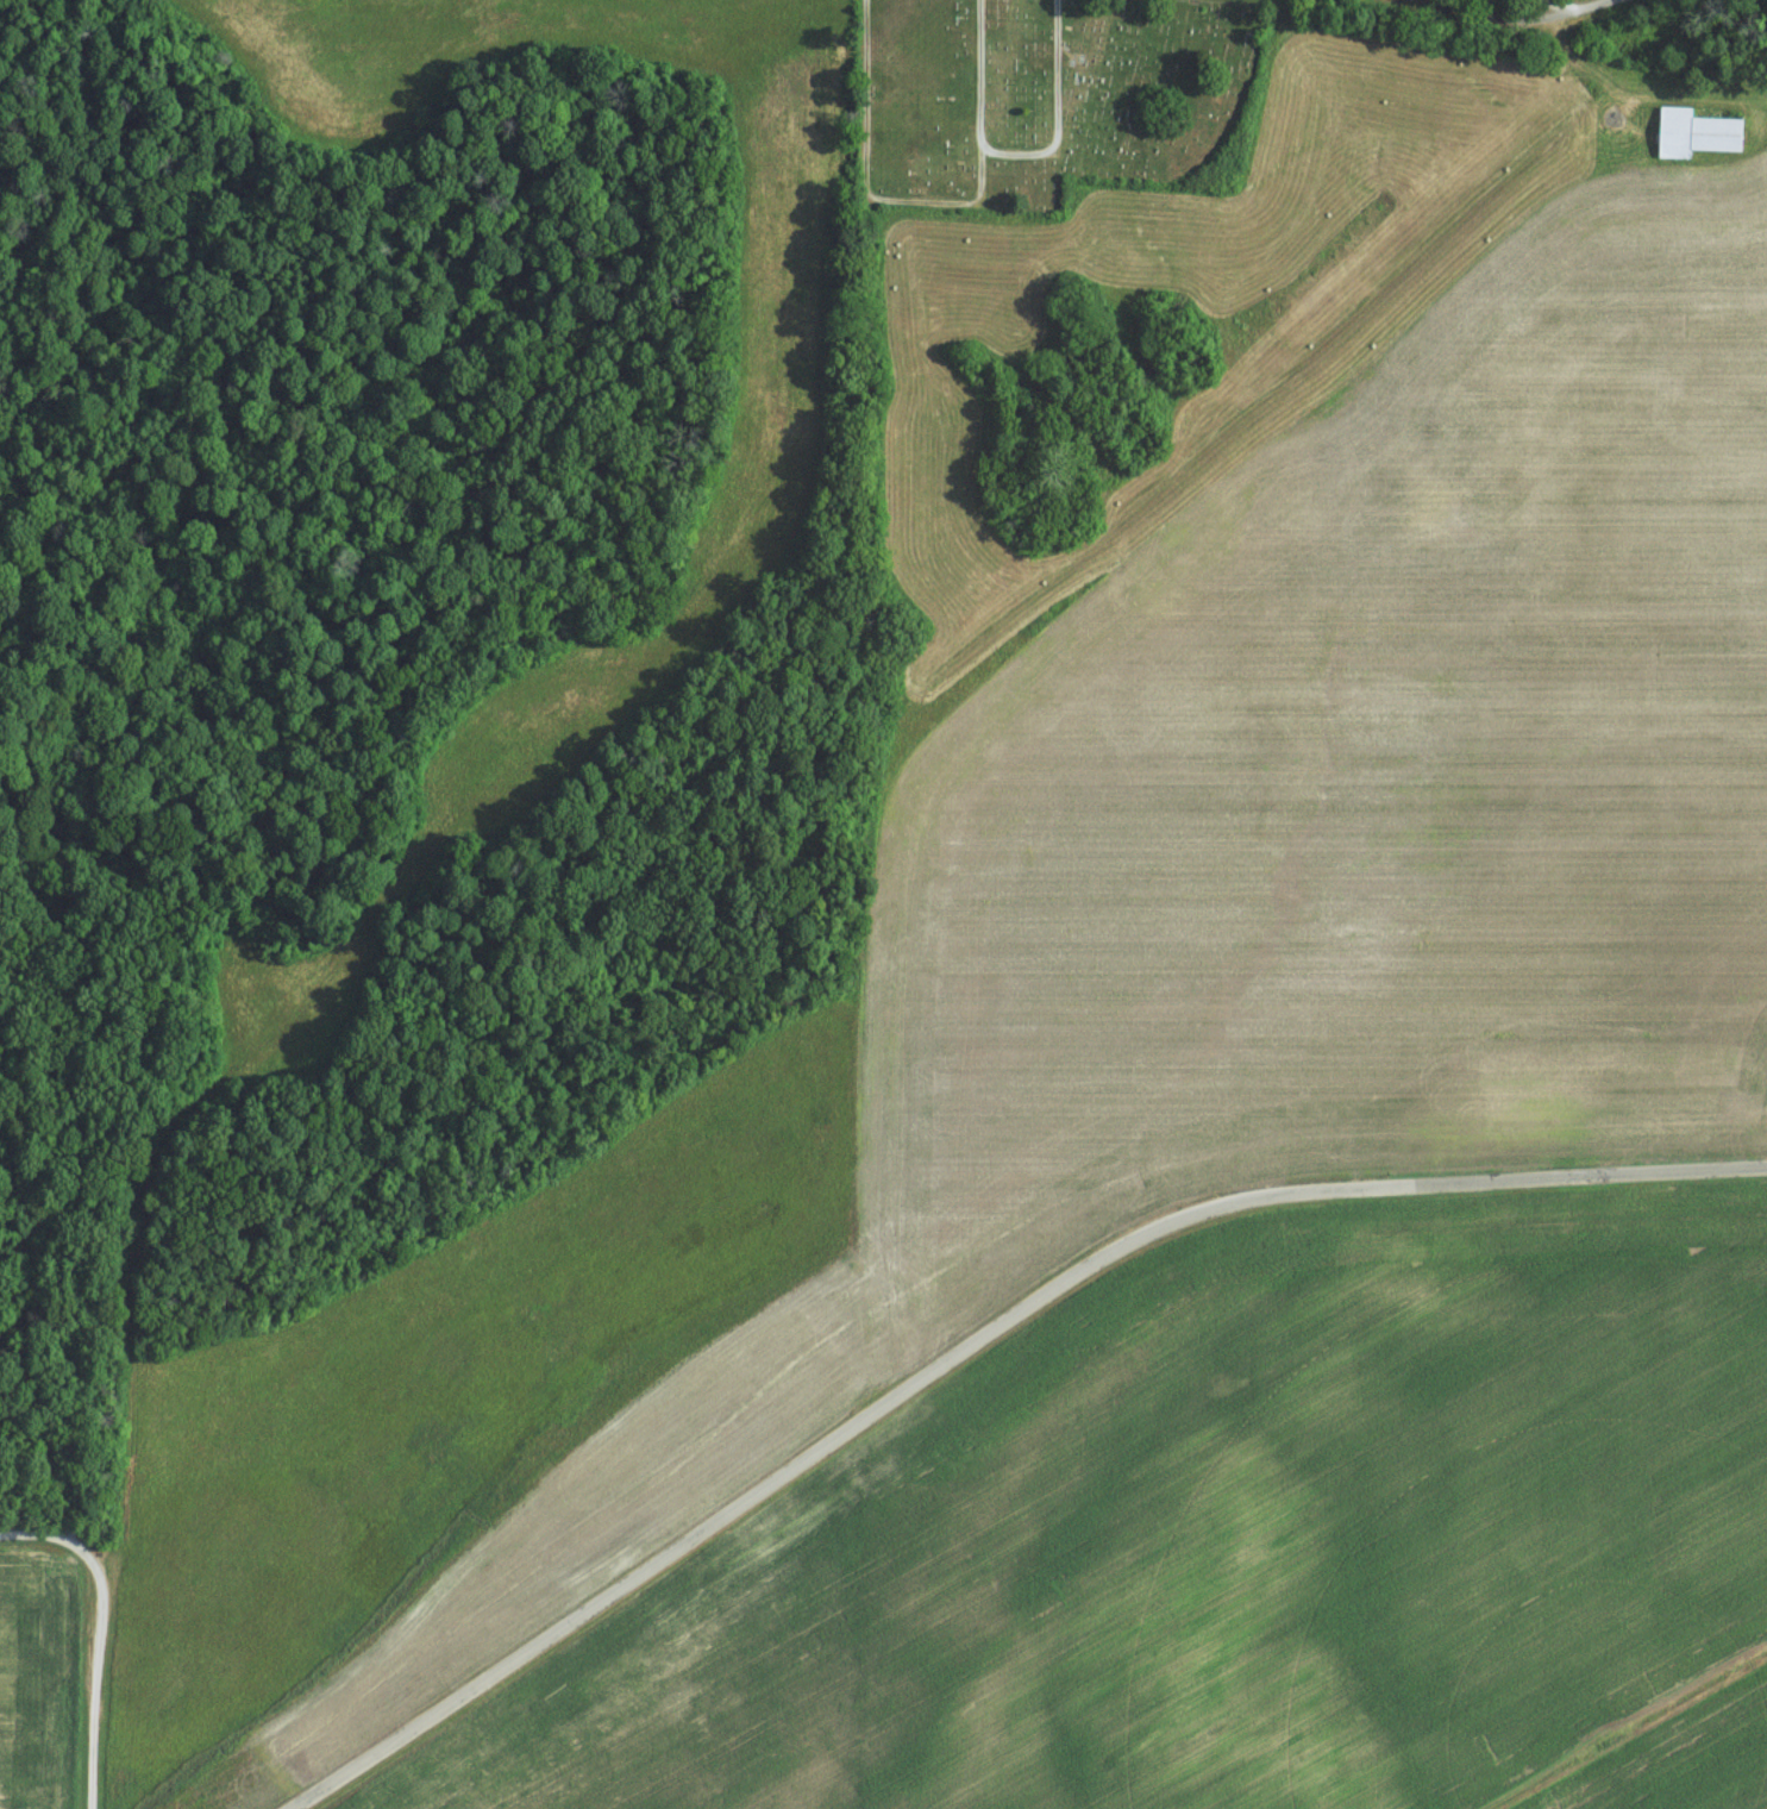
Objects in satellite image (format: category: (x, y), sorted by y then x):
road: (1528, 2)
road: (1543, 11)
road: (1730, 11)
building: (1700, 132)
road: (1011, 162)
road: (970, 1341)
road: (102, 1630)

